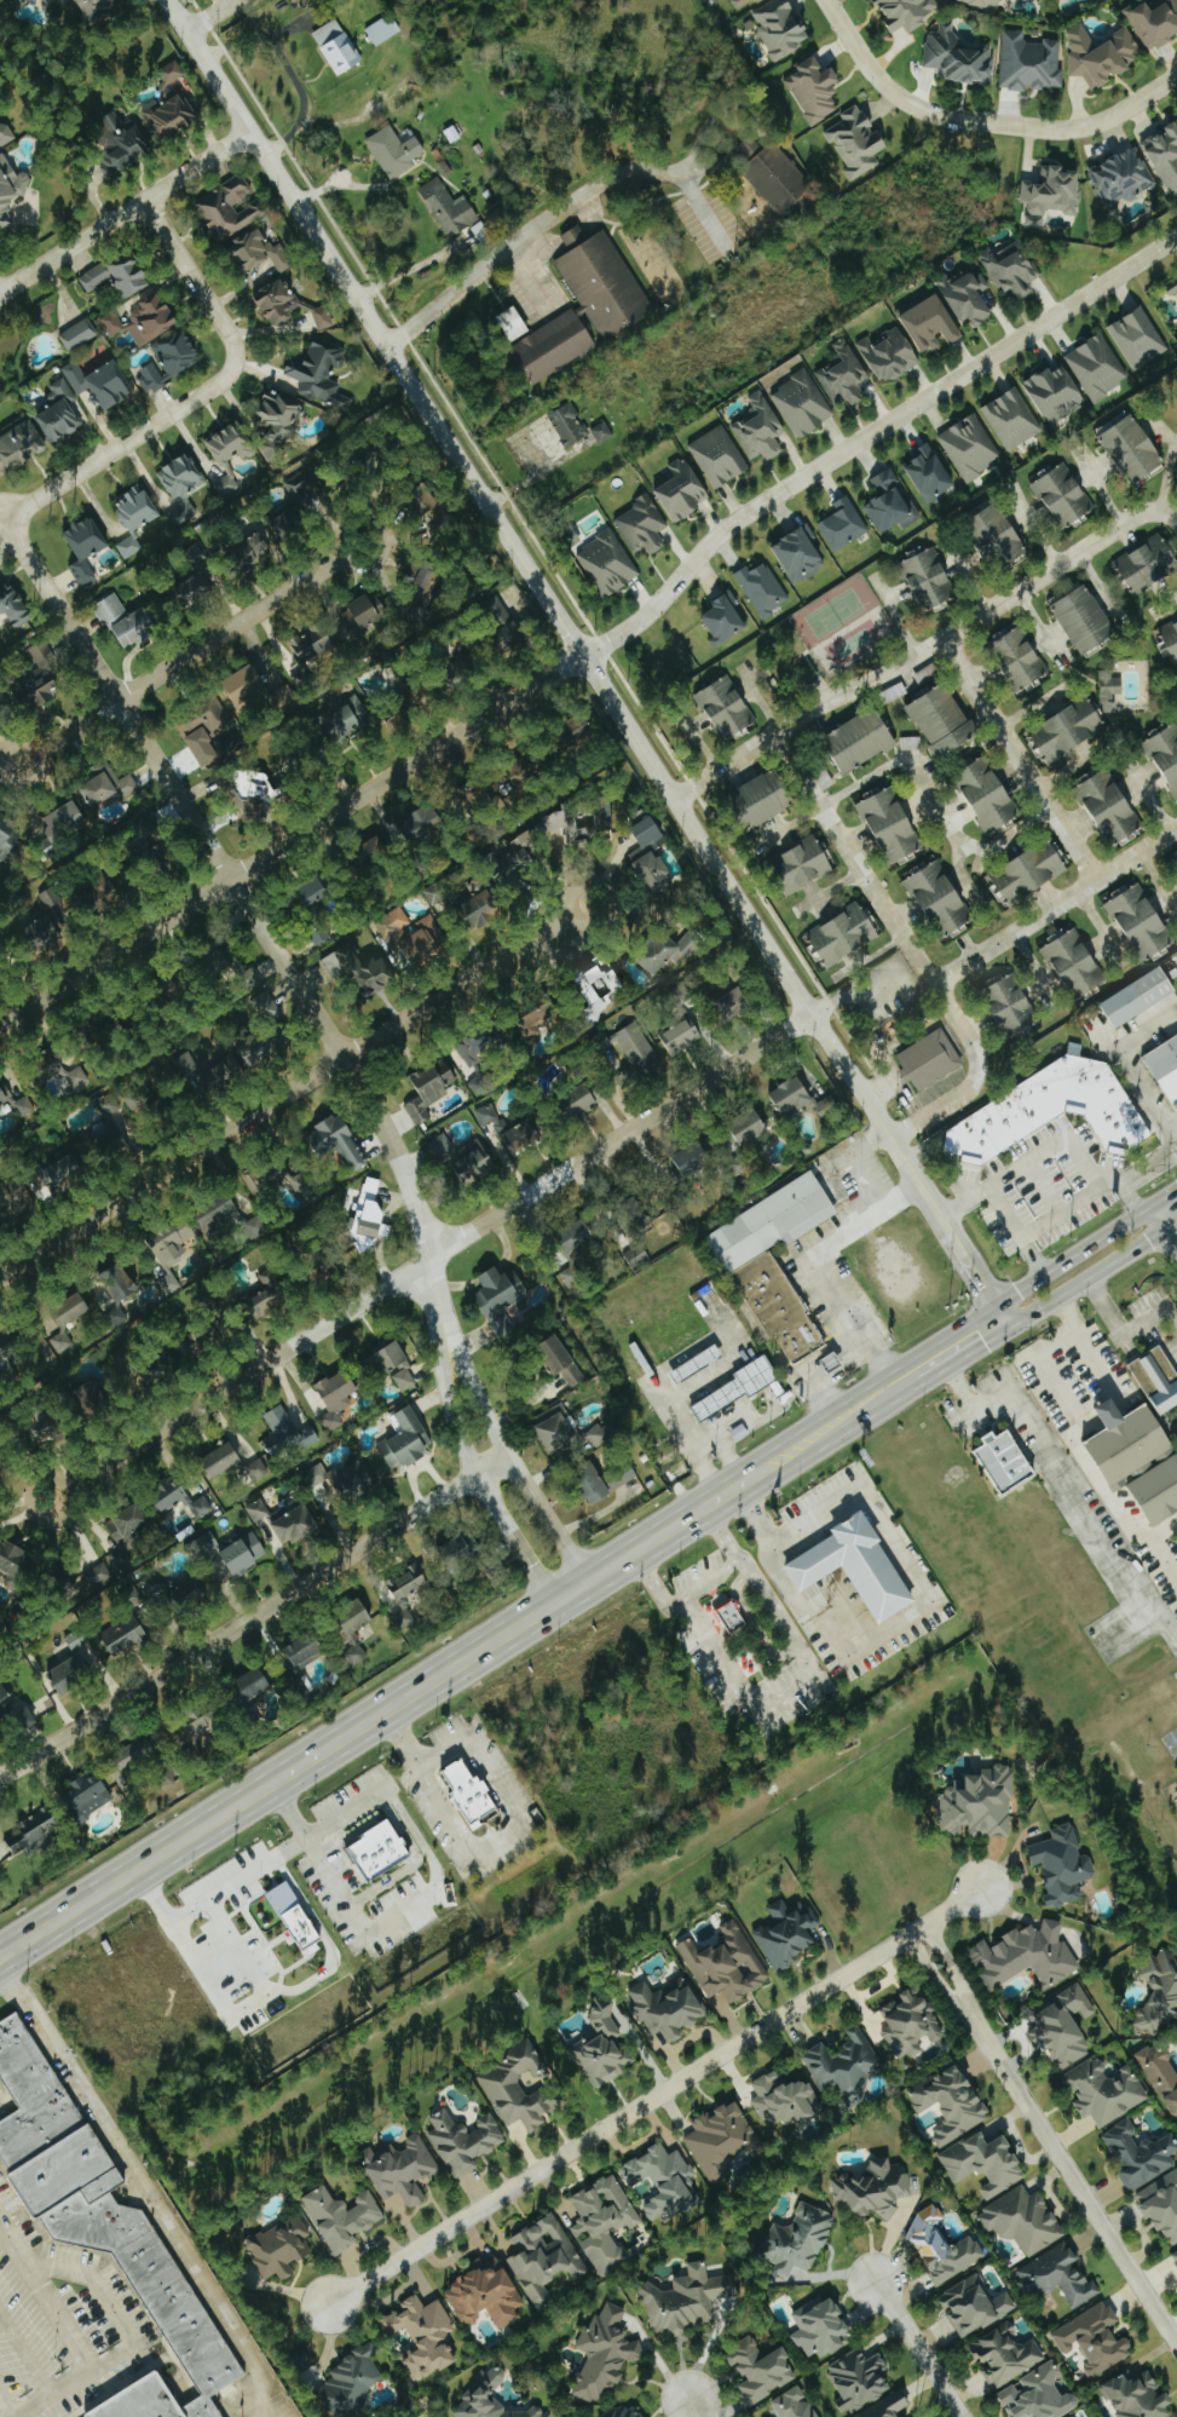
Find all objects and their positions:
building: (1015, 0)
building: (745, 2)
building: (96, 10)
building: (908, 12)
road: (209, 15)
building: (1155, 23)
building: (781, 29)
building: (383, 30)
building: (337, 47)
building: (1102, 57)
building: (958, 58)
building: (1031, 63)
road: (285, 69)
building: (169, 74)
building: (815, 91)
building: (169, 116)
road: (981, 120)
building: (6, 133)
building: (121, 143)
building: (856, 143)
building: (394, 151)
building: (1165, 155)
building: (1123, 178)
building: (777, 182)
building: (11, 190)
building: (1051, 194)
building: (230, 208)
building: (452, 211)
road: (123, 212)
road: (573, 236)
road: (503, 251)
building: (259, 253)
building: (1011, 267)
building: (121, 276)
building: (1172, 287)
building: (969, 298)
building: (278, 304)
building: (576, 310)
building: (323, 318)
building: (144, 321)
building: (933, 323)
building: (79, 335)
building: (1140, 338)
building: (179, 353)
building: (890, 353)
building: (1097, 367)
building: (321, 373)
building: (846, 374)
building: (151, 379)
building: (102, 384)
road: (200, 392)
building: (1055, 392)
building: (803, 404)
building: (62, 414)
building: (1012, 419)
building: (278, 422)
building: (569, 425)
building: (761, 428)
road: (1162, 431)
building: (604, 432)
road: (871, 436)
building: (232, 444)
building: (21, 447)
building: (971, 447)
building: (1135, 449)
building: (719, 456)
building: (931, 472)
road: (1165, 476)
building: (184, 479)
building: (226, 487)
road: (1100, 487)
building: (685, 490)
building: (1065, 495)
building: (890, 503)
building: (298, 506)
building: (138, 510)
road: (1172, 518)
road: (1, 520)
building: (644, 525)
building: (844, 525)
road: (1032, 528)
building: (998, 535)
building: (129, 547)
building: (254, 548)
building: (87, 549)
building: (801, 554)
building: (1149, 563)
building: (608, 564)
road: (963, 574)
building: (198, 575)
building: (428, 576)
building: (929, 580)
road: (1100, 586)
building: (763, 588)
building: (15, 605)
road: (1164, 605)
building: (367, 612)
road: (895, 616)
building: (725, 618)
building: (1086, 620)
building: (127, 622)
road: (1042, 628)
building: (512, 635)
building: (317, 641)
building: (1170, 641)
road: (922, 654)
road: (190, 655)
building: (1021, 658)
road: (589, 662)
building: (247, 684)
building: (1110, 691)
road: (756, 698)
building: (727, 708)
road: (1032, 708)
building: (2, 710)
building: (347, 719)
building: (944, 720)
building: (582, 729)
building: (1069, 729)
building: (204, 730)
building: (862, 738)
road: (696, 741)
building: (1167, 755)
road: (1020, 760)
road: (1069, 766)
building: (115, 785)
building: (990, 795)
road: (1148, 795)
building: (765, 798)
road: (933, 804)
building: (1112, 805)
building: (65, 821)
building: (423, 824)
building: (567, 825)
building: (893, 825)
road: (787, 828)
building: (648, 838)
building: (8, 839)
road: (292, 840)
building: (520, 852)
building: (1175, 859)
building: (804, 864)
building: (654, 873)
road: (959, 873)
building: (1028, 874)
road: (1158, 879)
road: (827, 890)
building: (438, 892)
building: (318, 893)
building: (941, 897)
building: (479, 903)
road: (1054, 905)
building: (50, 916)
building: (1142, 920)
road: (255, 922)
building: (393, 922)
road: (1100, 927)
building: (321, 934)
building: (844, 934)
building: (425, 942)
road: (908, 946)
building: (670, 950)
road: (869, 959)
building: (224, 961)
building: (1077, 962)
road: (1034, 966)
building: (360, 969)
building: (599, 986)
road: (854, 995)
building: (1141, 997)
building: (734, 1003)
building: (1014, 1006)
building: (538, 1020)
building: (680, 1034)
road: (875, 1053)
building: (637, 1054)
building: (930, 1060)
road: (1124, 1061)
building: (189, 1065)
building: (1166, 1067)
building: (225, 1074)
building: (77, 1078)
building: (480, 1082)
road: (294, 1089)
building: (431, 1089)
building: (4, 1095)
building: (137, 1098)
building: (803, 1099)
building: (581, 1100)
building: (24, 1106)
building: (1055, 1110)
building: (491, 1117)
building: (751, 1128)
building: (527, 1133)
building: (339, 1140)
road: (1060, 1140)
road: (1170, 1141)
building: (463, 1158)
building: (694, 1158)
road: (856, 1161)
road: (1150, 1163)
building: (62, 1170)
road: (1125, 1173)
building: (258, 1186)
building: (306, 1186)
traffic signals: (1135, 1191)
road: (969, 1192)
road: (1162, 1198)
building: (13, 1201)
building: (637, 1214)
building: (218, 1218)
road: (1156, 1218)
road: (1171, 1225)
building: (256, 1227)
road: (1171, 1236)
traffic signals: (1147, 1239)
building: (577, 1241)
building: (171, 1249)
building: (637, 1255)
road: (429, 1256)
road: (810, 1258)
building: (777, 1261)
road: (1090, 1276)
traffic signals: (988, 1279)
building: (126, 1287)
traffic signals: (1016, 1288)
building: (271, 1294)
road: (1000, 1295)
building: (501, 1297)
building: (71, 1308)
road: (1125, 1328)
traffic signals: (983, 1343)
road: (965, 1354)
building: (387, 1359)
building: (562, 1362)
road: (829, 1379)
building: (1159, 1379)
building: (405, 1380)
building: (734, 1391)
road: (892, 1394)
building: (337, 1398)
building: (92, 1400)
road: (663, 1400)
road: (852, 1410)
building: (52, 1425)
road: (1034, 1428)
building: (567, 1433)
building: (287, 1434)
road: (1074, 1439)
building: (405, 1440)
road: (702, 1441)
building: (1130, 1441)
building: (223, 1460)
building: (1008, 1461)
building: (258, 1469)
road: (517, 1469)
building: (317, 1475)
building: (354, 1479)
building: (599, 1481)
road: (483, 1485)
building: (1159, 1492)
building: (180, 1500)
road: (710, 1504)
building: (258, 1510)
building: (296, 1525)
road: (1162, 1531)
building: (126, 1538)
building: (210, 1544)
building: (462, 1552)
building: (244, 1554)
building: (13, 1561)
building: (858, 1567)
building: (96, 1579)
road: (913, 1583)
building: (169, 1588)
building: (133, 1595)
road: (254, 1616)
building: (732, 1617)
building: (409, 1619)
road: (529, 1623)
building: (360, 1628)
building: (126, 1636)
building: (306, 1650)
building: (75, 1667)
building: (254, 1685)
road: (784, 1696)
building: (17, 1711)
road: (402, 1737)
building: (133, 1761)
building: (463, 1792)
building: (90, 1803)
building: (980, 1805)
road: (236, 1808)
road: (513, 1829)
road: (294, 1846)
building: (379, 1852)
building: (1065, 1864)
road: (416, 1907)
building: (298, 1920)
building: (789, 1933)
road: (248, 1943)
building: (1027, 1956)
building: (727, 1964)
road: (954, 1974)
road: (327, 1978)
road: (937, 1985)
building: (1160, 1993)
building: (670, 2008)
building: (912, 2022)
building: (1067, 2025)
building: (606, 2045)
building: (844, 2065)
building: (1162, 2073)
building: (521, 2088)
building: (1106, 2090)
road: (657, 2095)
building: (785, 2099)
building: (953, 2102)
building: (721, 2139)
building: (465, 2140)
building: (1141, 2153)
building: (986, 2163)
building: (403, 2168)
building: (664, 2181)
road: (1077, 2187)
road: (140, 2188)
building: (873, 2188)
building: (1161, 2204)
building: (342, 2217)
building: (1023, 2220)
building: (604, 2221)
building: (104, 2222)
building: (800, 2239)
building: (282, 2246)
building: (944, 2248)
building: (1175, 2256)
building: (544, 2257)
building: (1057, 2275)
building: (486, 2295)
building: (688, 2300)
building: (974, 2306)
road: (111, 2307)
building: (823, 2329)
road: (63, 2333)
building: (425, 2336)
building: (1095, 2338)
road: (922, 2348)
building: (606, 2353)
building: (1006, 2355)
building: (761, 2370)
building: (860, 2379)
building: (351, 2383)
building: (1039, 2395)
building: (105, 2396)
building: (1138, 2396)
building: (491, 2399)
building: (794, 2404)
building: (889, 2406)
road: (697, 2409)
building: (630, 2411)
building: (820, 2416)
building: (1073, 2416)

